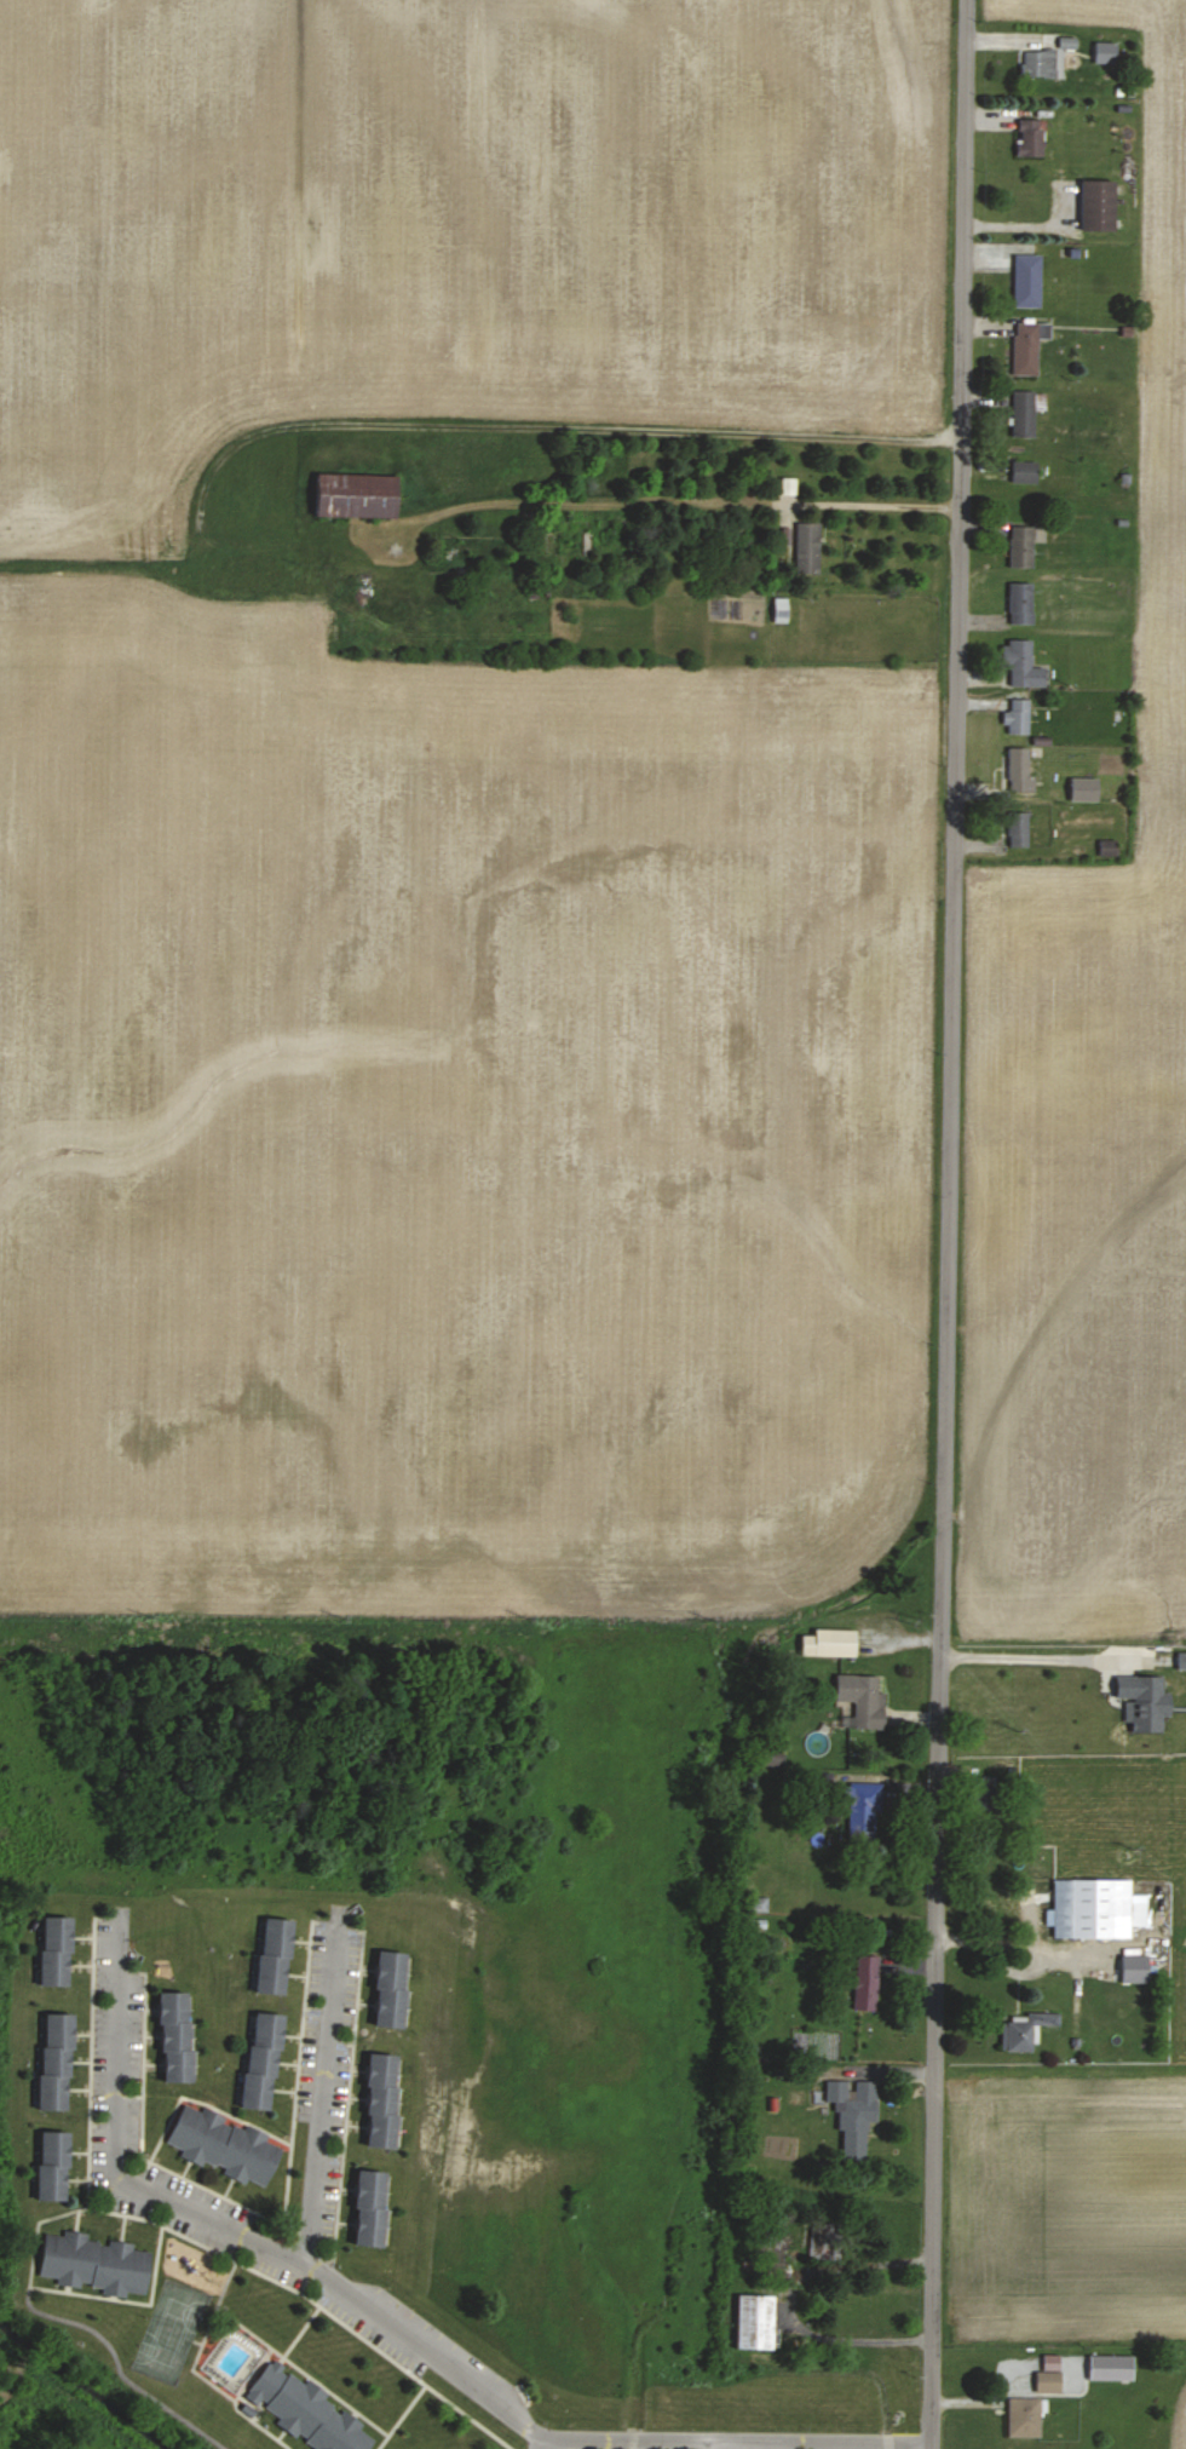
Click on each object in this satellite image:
building: (1102, 52)
building: (1037, 63)
building: (1029, 138)
building: (1095, 206)
building: (1024, 281)
building: (1025, 346)
building: (1020, 414)
building: (1021, 471)
building: (785, 484)
building: (350, 494)
road: (690, 500)
building: (806, 546)
building: (1019, 546)
building: (1018, 602)
building: (778, 609)
building: (1020, 665)
building: (1015, 717)
building: (1017, 770)
building: (1081, 788)
building: (1015, 828)
building: (1105, 847)
road: (948, 1224)
building: (827, 1643)
road: (1042, 1658)
building: (1180, 1661)
building: (859, 1698)
building: (1140, 1702)
building: (860, 1807)
building: (758, 1904)
building: (1094, 1909)
building: (53, 1949)
building: (271, 1956)
road: (1014, 1958)
building: (1132, 1968)
building: (864, 1983)
building: (391, 1990)
building: (172, 2039)
road: (116, 2045)
building: (257, 2057)
building: (54, 2060)
road: (323, 2093)
building: (381, 2097)
building: (851, 2114)
building: (221, 2143)
building: (50, 2166)
parking lot: (139, 2180)
building: (369, 2207)
building: (93, 2258)
road: (794, 2304)
building: (752, 2321)
building: (1107, 2367)
building: (1046, 2374)
road: (495, 2402)
building: (305, 2409)
building: (1021, 2416)
road: (537, 2442)
parking lot: (781, 2443)

